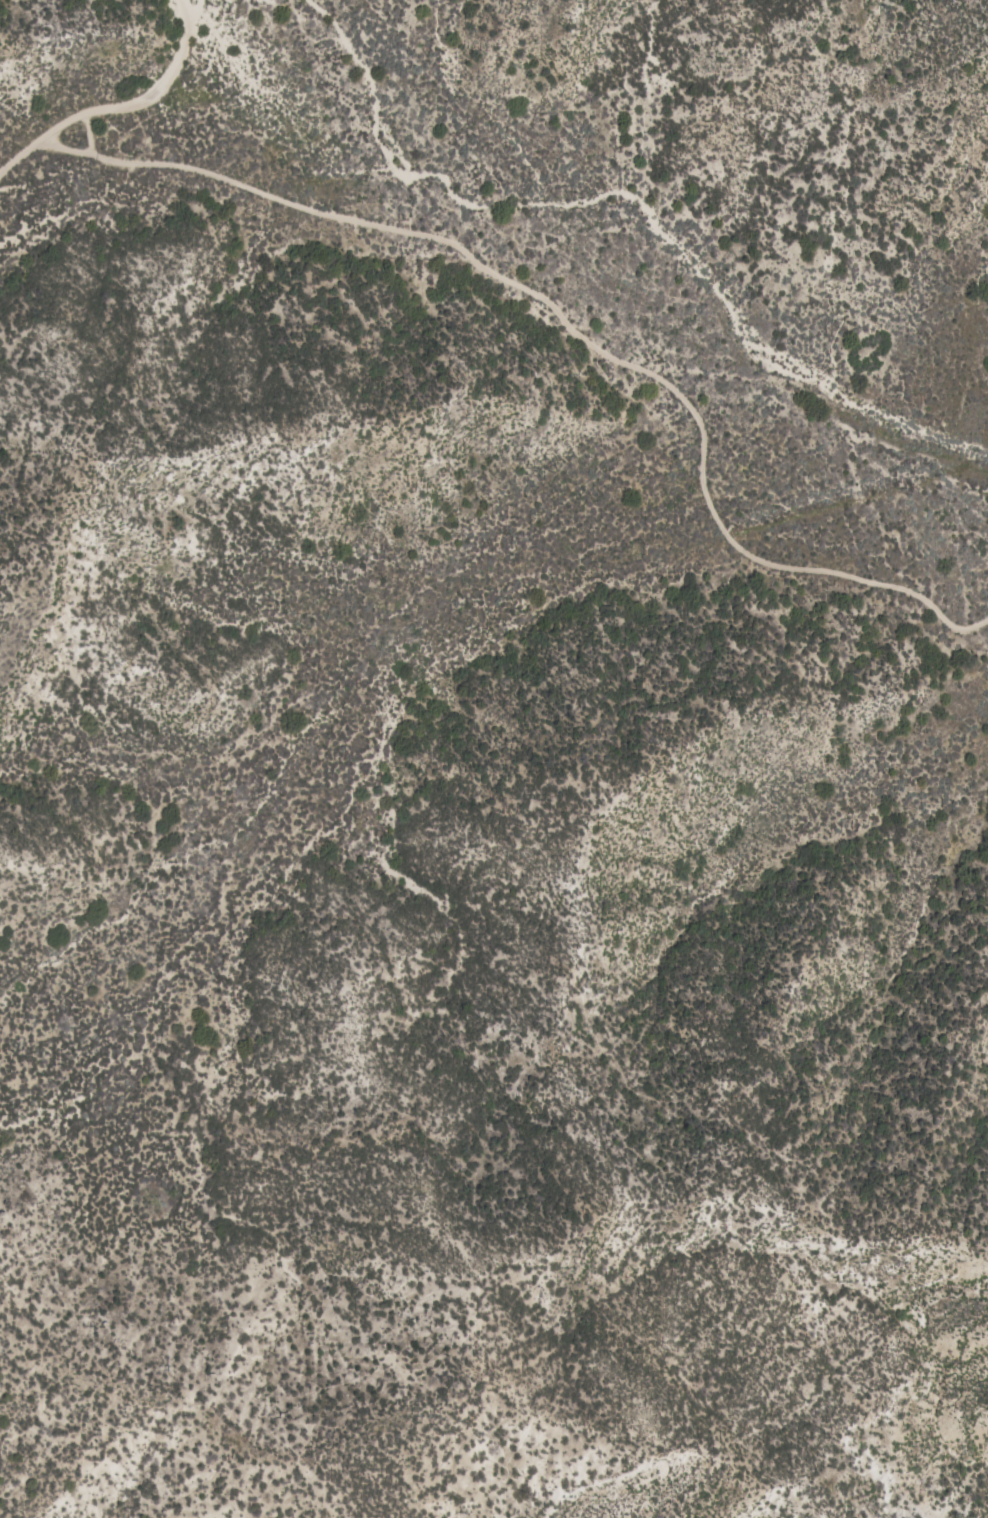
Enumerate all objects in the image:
road: (120, 107)
road: (80, 152)
road: (589, 345)

